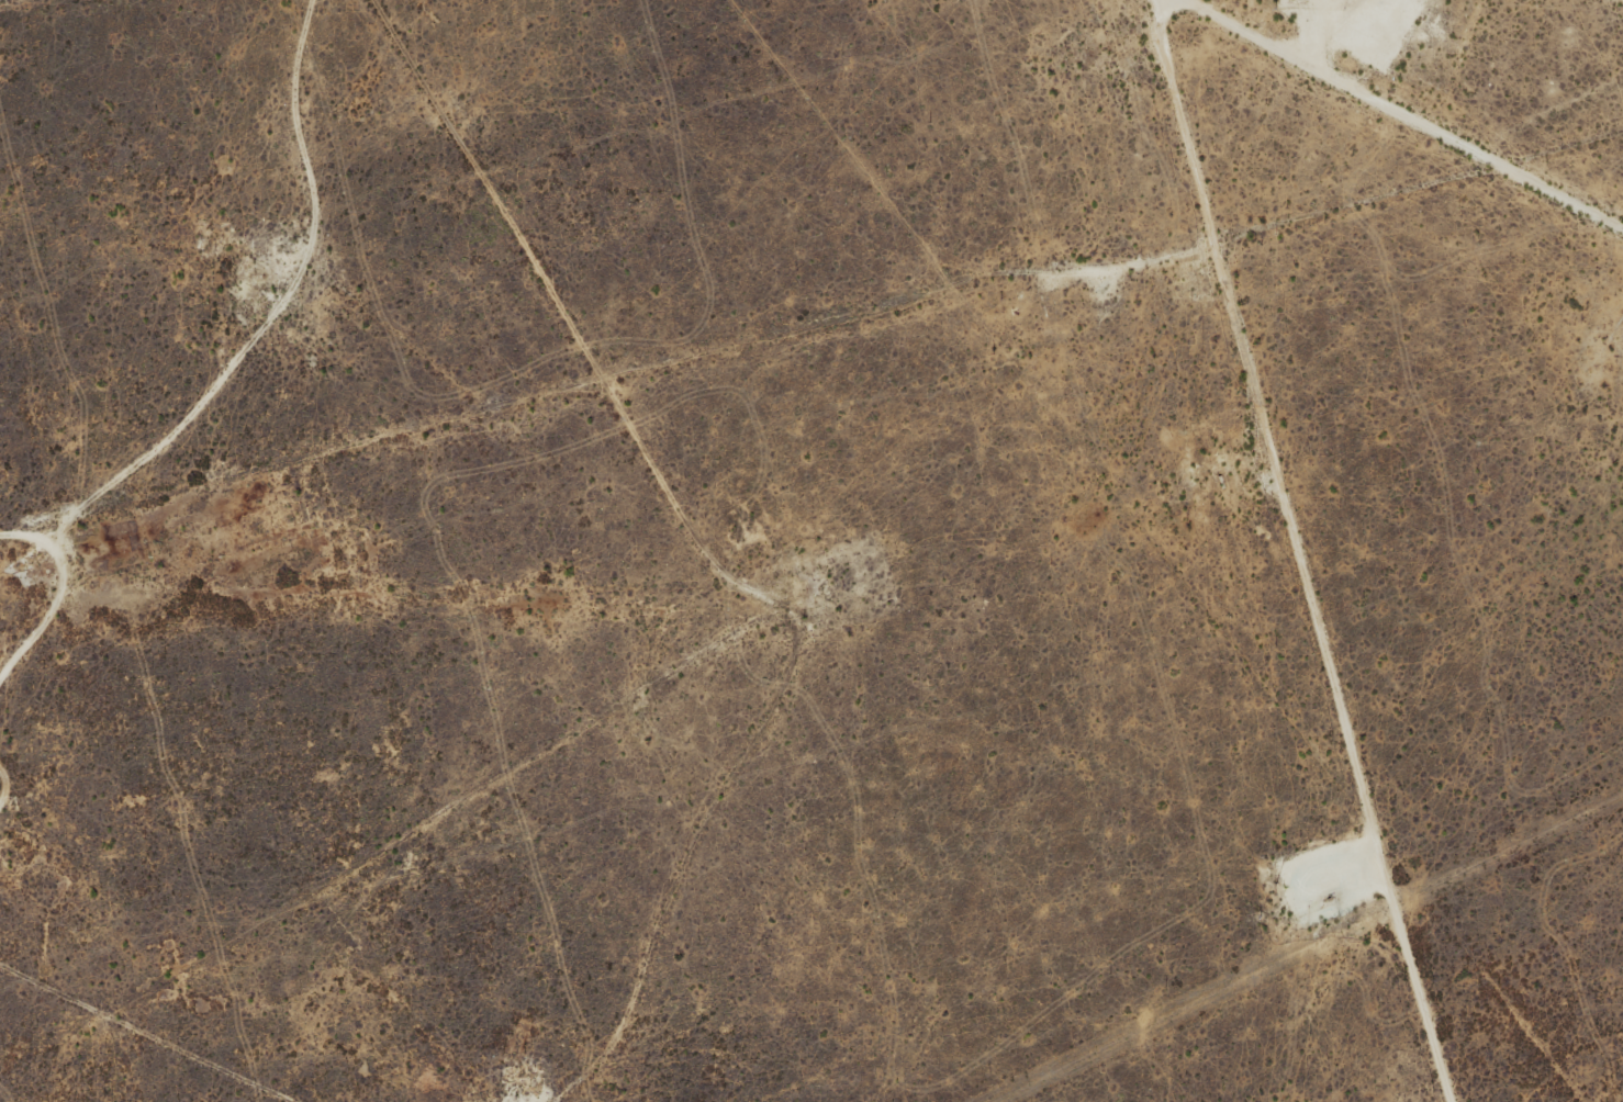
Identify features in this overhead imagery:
road: (1428, 101)

